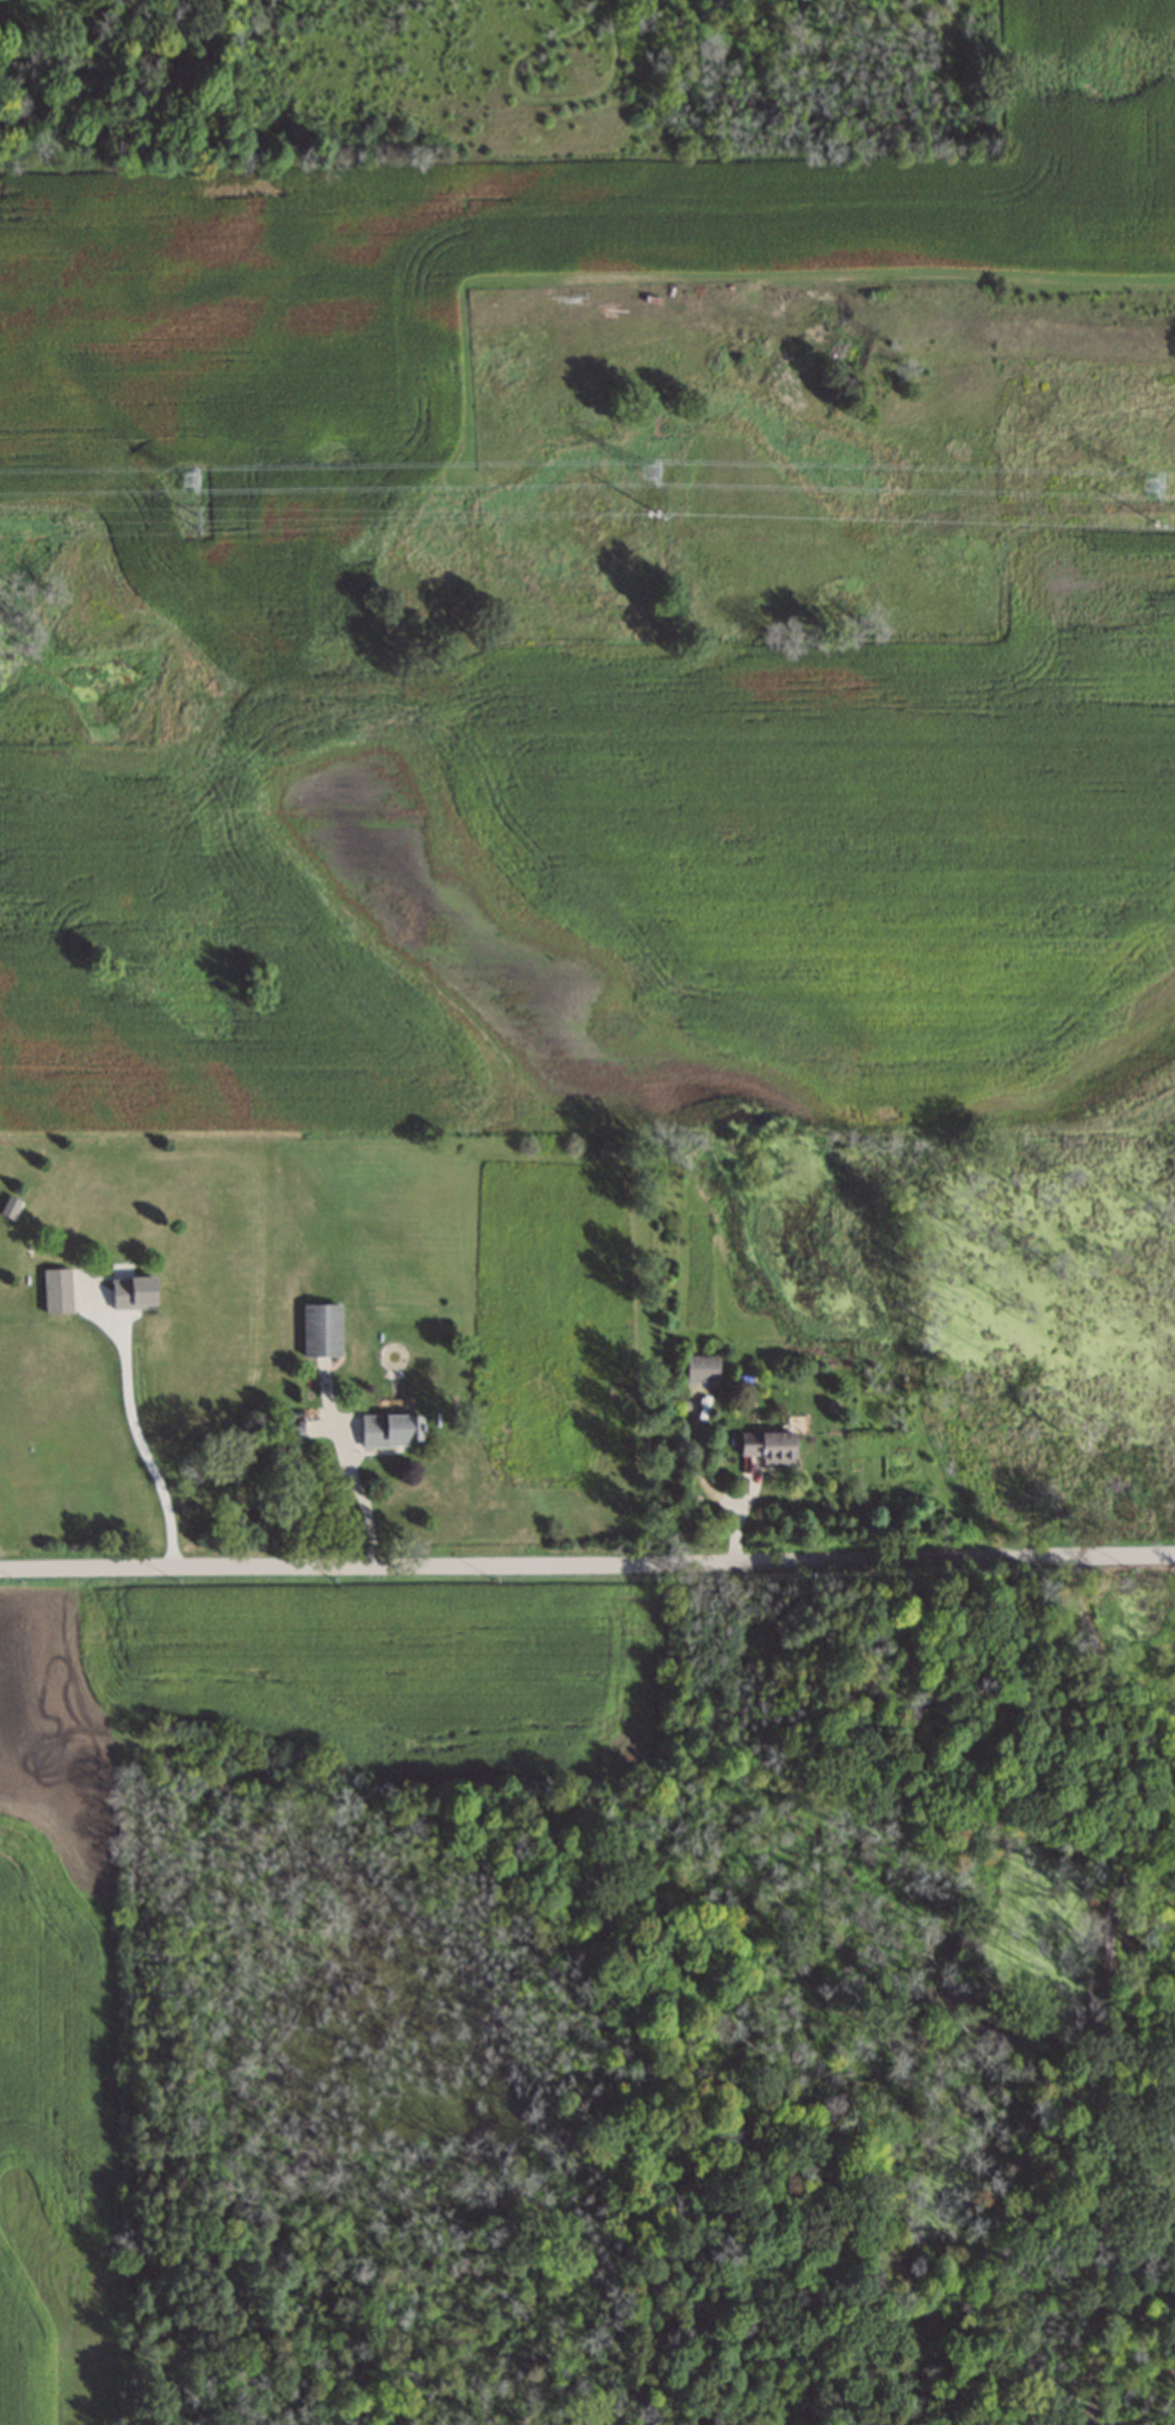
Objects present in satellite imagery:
building: (754, 26)
power tower: (650, 473)
power tower: (190, 482)
power tower: (1152, 487)
power tower: (193, 522)
building: (10, 1210)
building: (58, 1292)
building: (135, 1295)
building: (323, 1332)
building: (703, 1371)
building: (391, 1431)
road: (148, 1448)
building: (771, 1449)
road: (363, 1501)
road: (587, 1560)
road: (1108, 1982)

